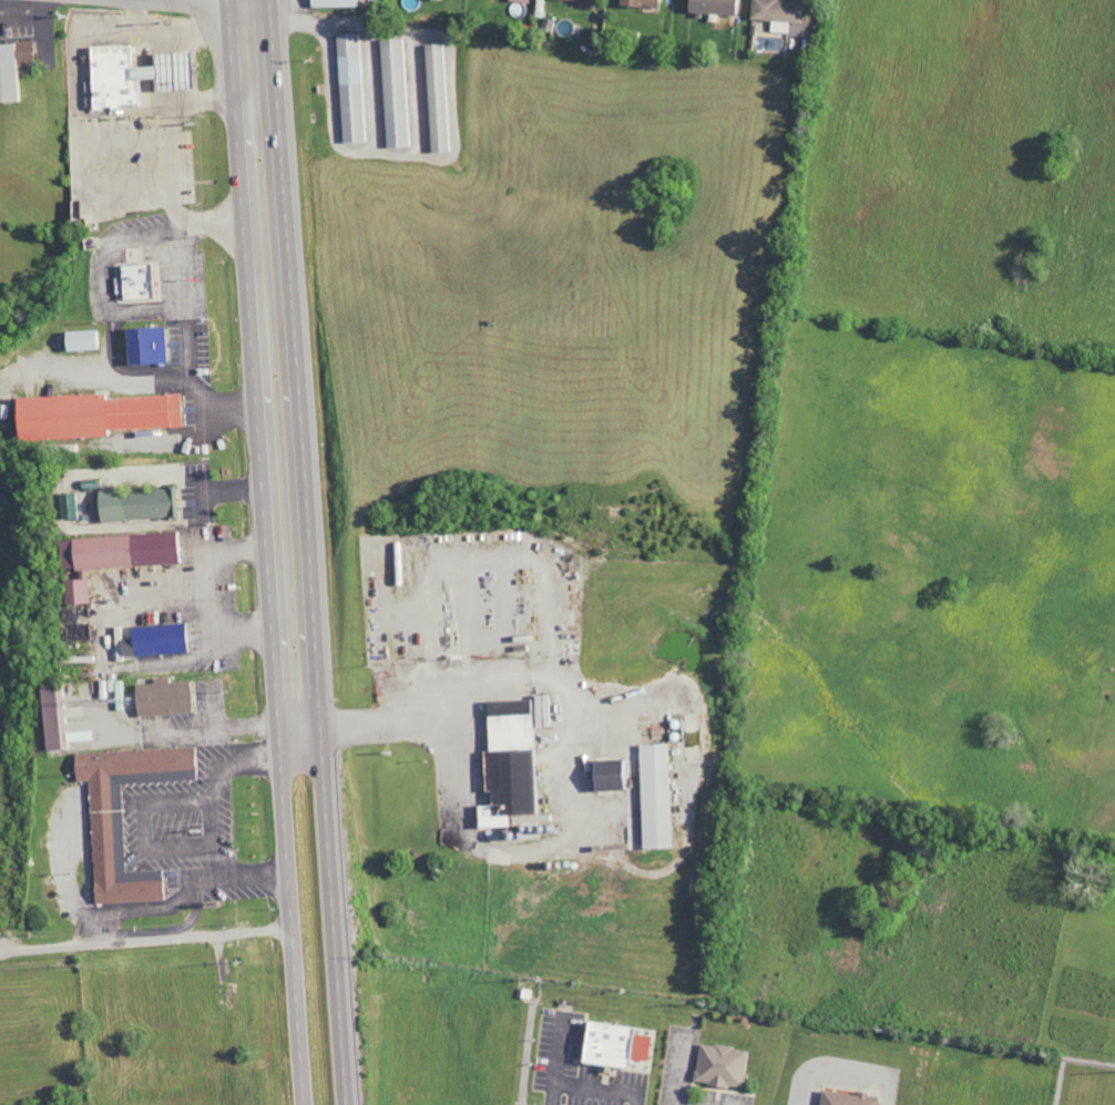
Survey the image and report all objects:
building: (440, 0)
building: (524, 0)
building: (591, 0)
road: (195, 2)
building: (340, 2)
building: (648, 3)
building: (720, 7)
road: (252, 9)
building: (786, 13)
road: (43, 23)
road: (171, 38)
road: (158, 50)
building: (17, 70)
road: (160, 72)
building: (141, 76)
road: (73, 82)
building: (356, 88)
building: (399, 93)
road: (162, 94)
road: (126, 142)
road: (176, 161)
road: (133, 192)
building: (145, 282)
building: (91, 340)
building: (152, 346)
building: (102, 416)
building: (145, 504)
building: (78, 507)
road: (267, 552)
road: (313, 552)
building: (121, 557)
building: (167, 640)
building: (170, 698)
building: (60, 718)
road: (412, 726)
building: (516, 764)
building: (616, 776)
building: (662, 797)
building: (719, 1065)
power substation: (1084, 1083)
building: (845, 1098)

